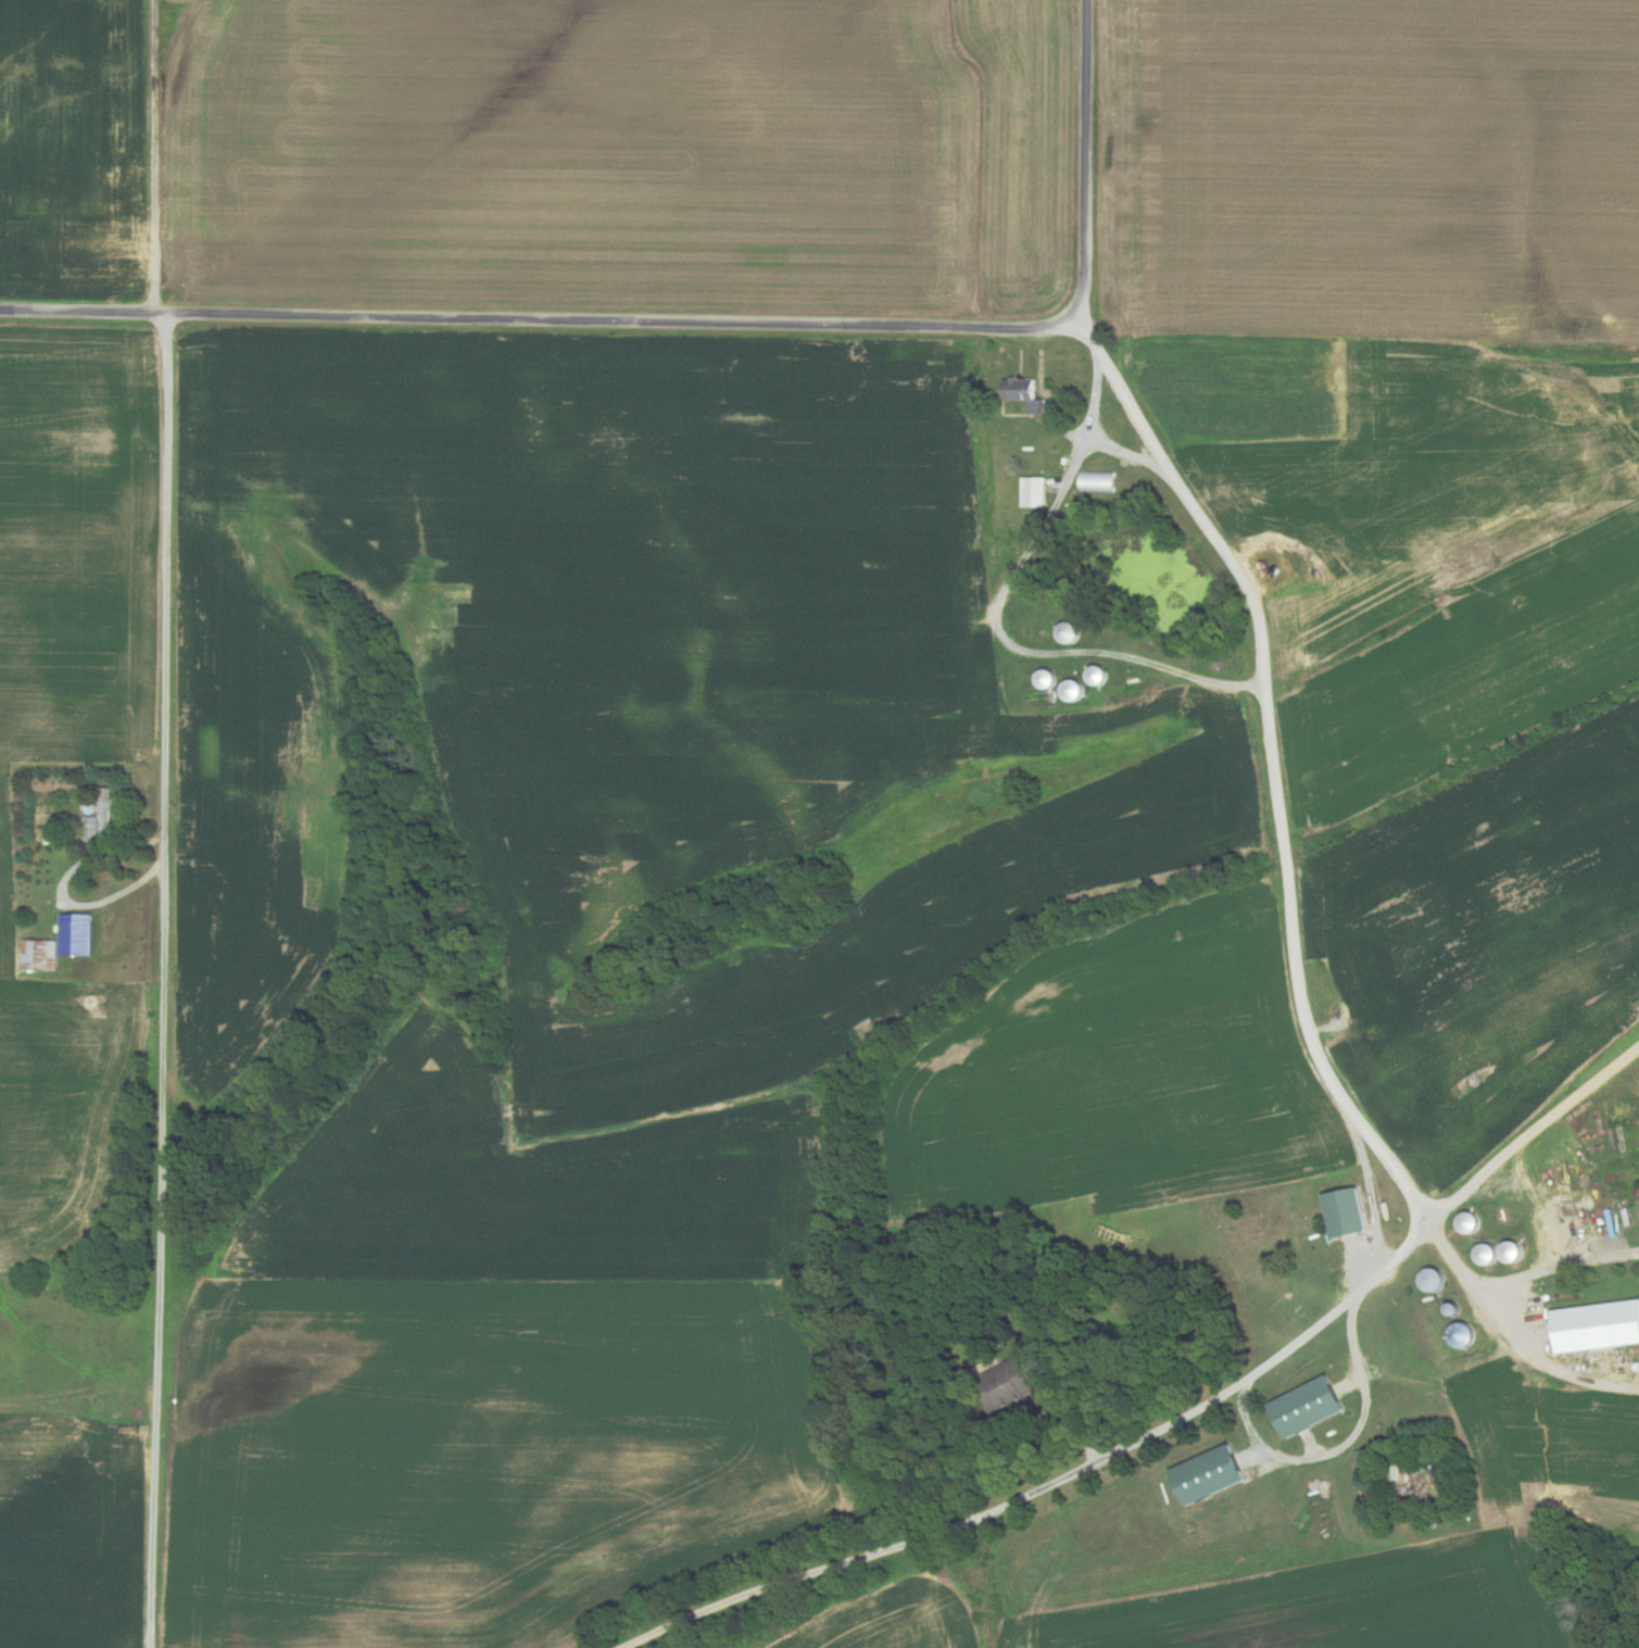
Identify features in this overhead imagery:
road: (543, 320)
building: (1032, 397)
road: (1129, 460)
building: (1099, 481)
building: (1035, 493)
road: (1260, 606)
road: (1004, 625)
building: (1070, 633)
building: (1106, 677)
building: (1050, 680)
building: (1073, 693)
building: (102, 814)
road: (168, 823)
road: (114, 900)
building: (41, 955)
petroleum well: (1336, 1012)
road: (1535, 1134)
road: (1367, 1193)
building: (1349, 1213)
building: (1472, 1223)
building: (1593, 1223)
building: (1504, 1254)
road: (1554, 1271)
building: (1435, 1281)
building: (1596, 1326)
road: (1509, 1342)
building: (1010, 1386)
building: (1311, 1407)
building: (1213, 1475)
road: (1056, 1482)

